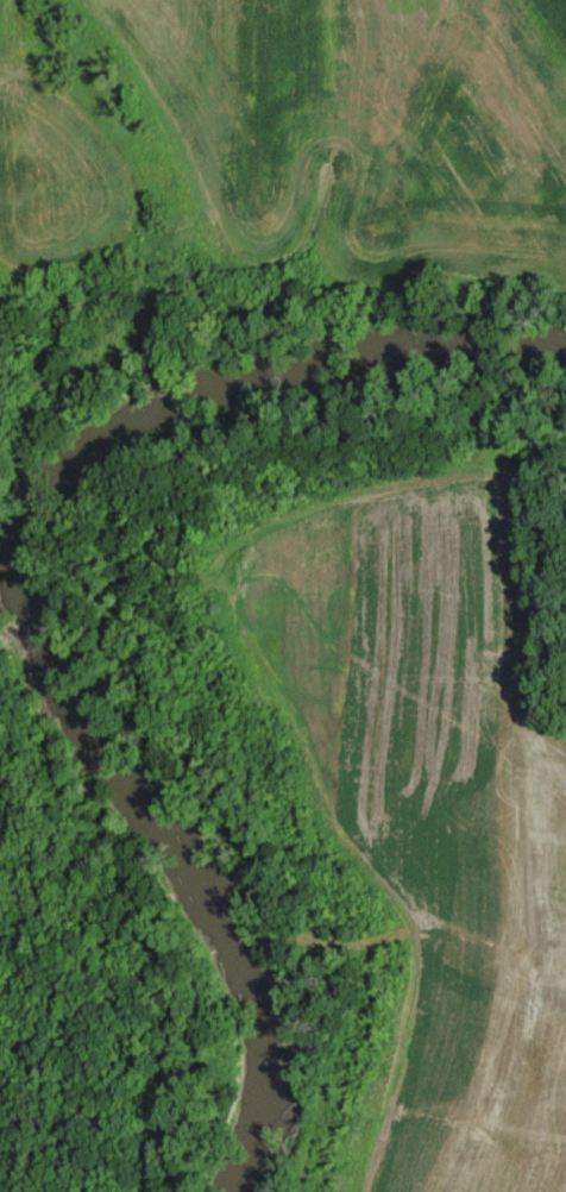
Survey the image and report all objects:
river: (19, 596)

